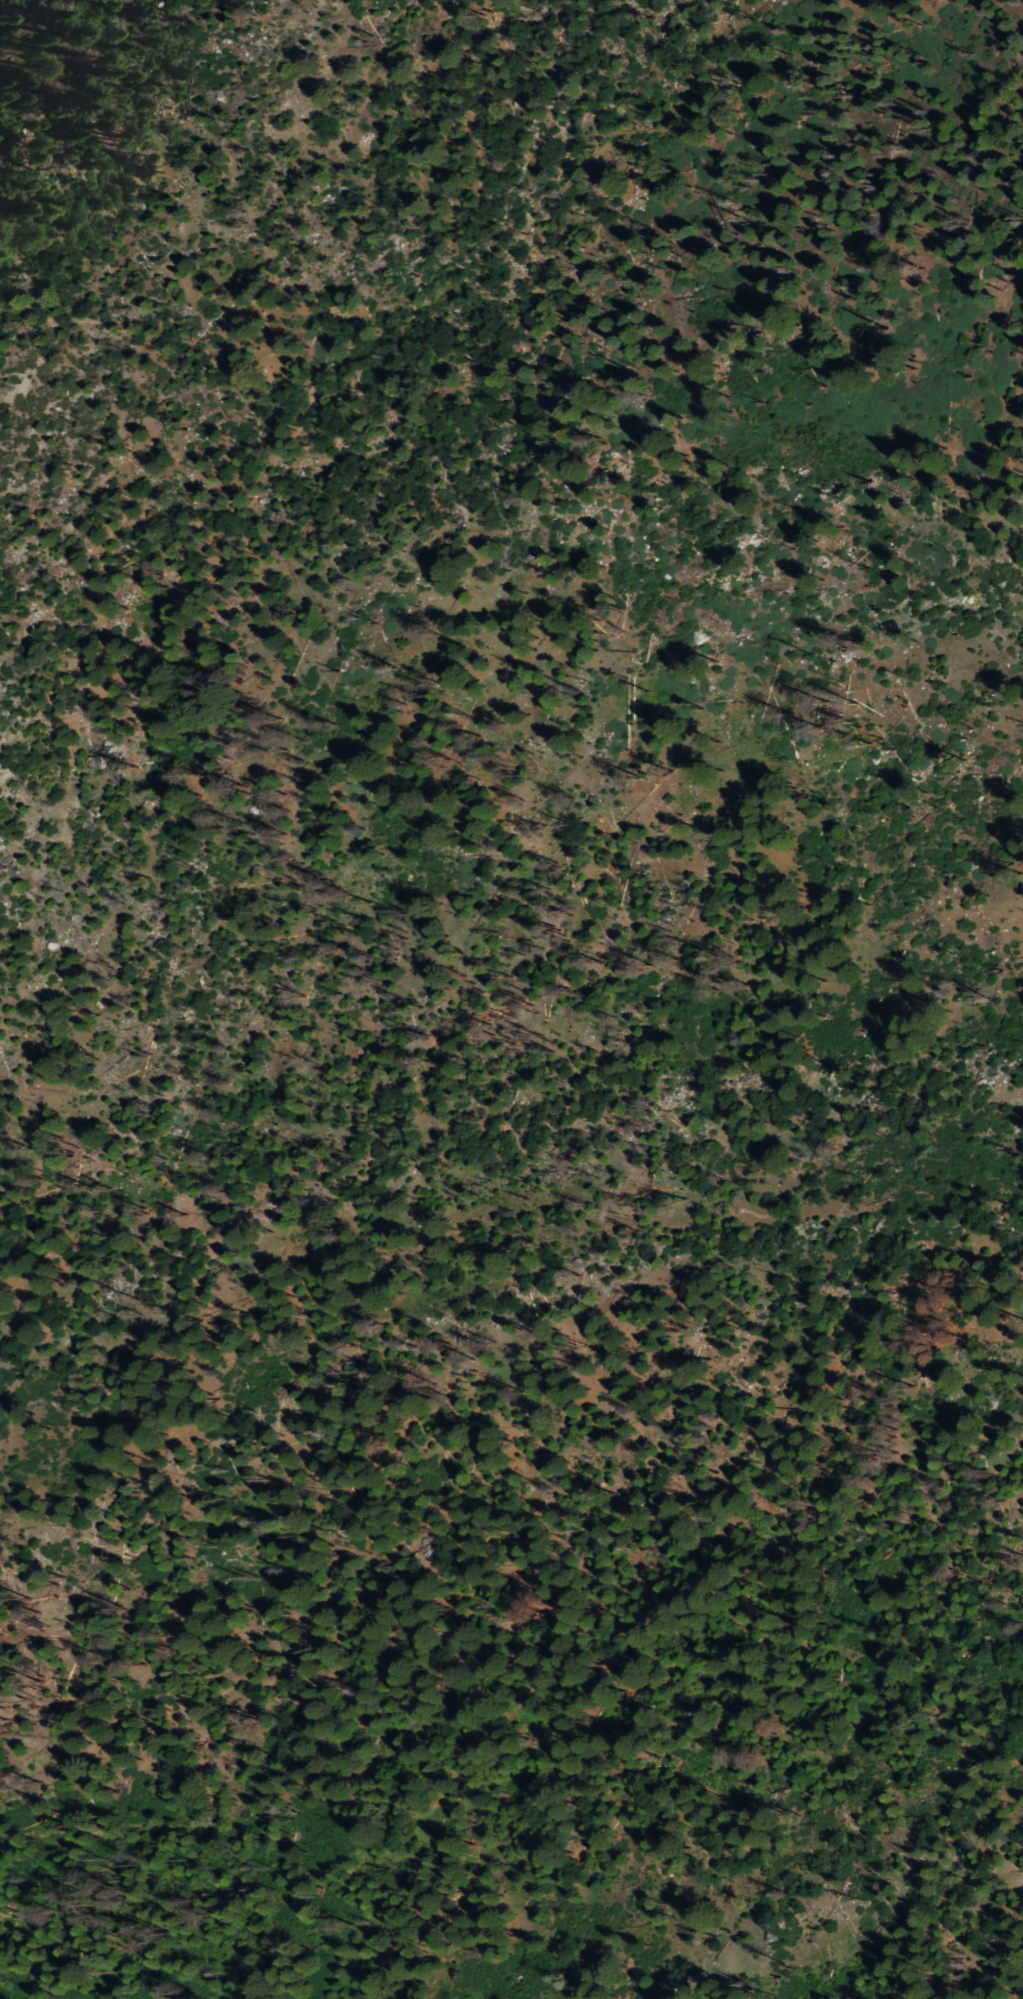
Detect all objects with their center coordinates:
road: (128, 585)

